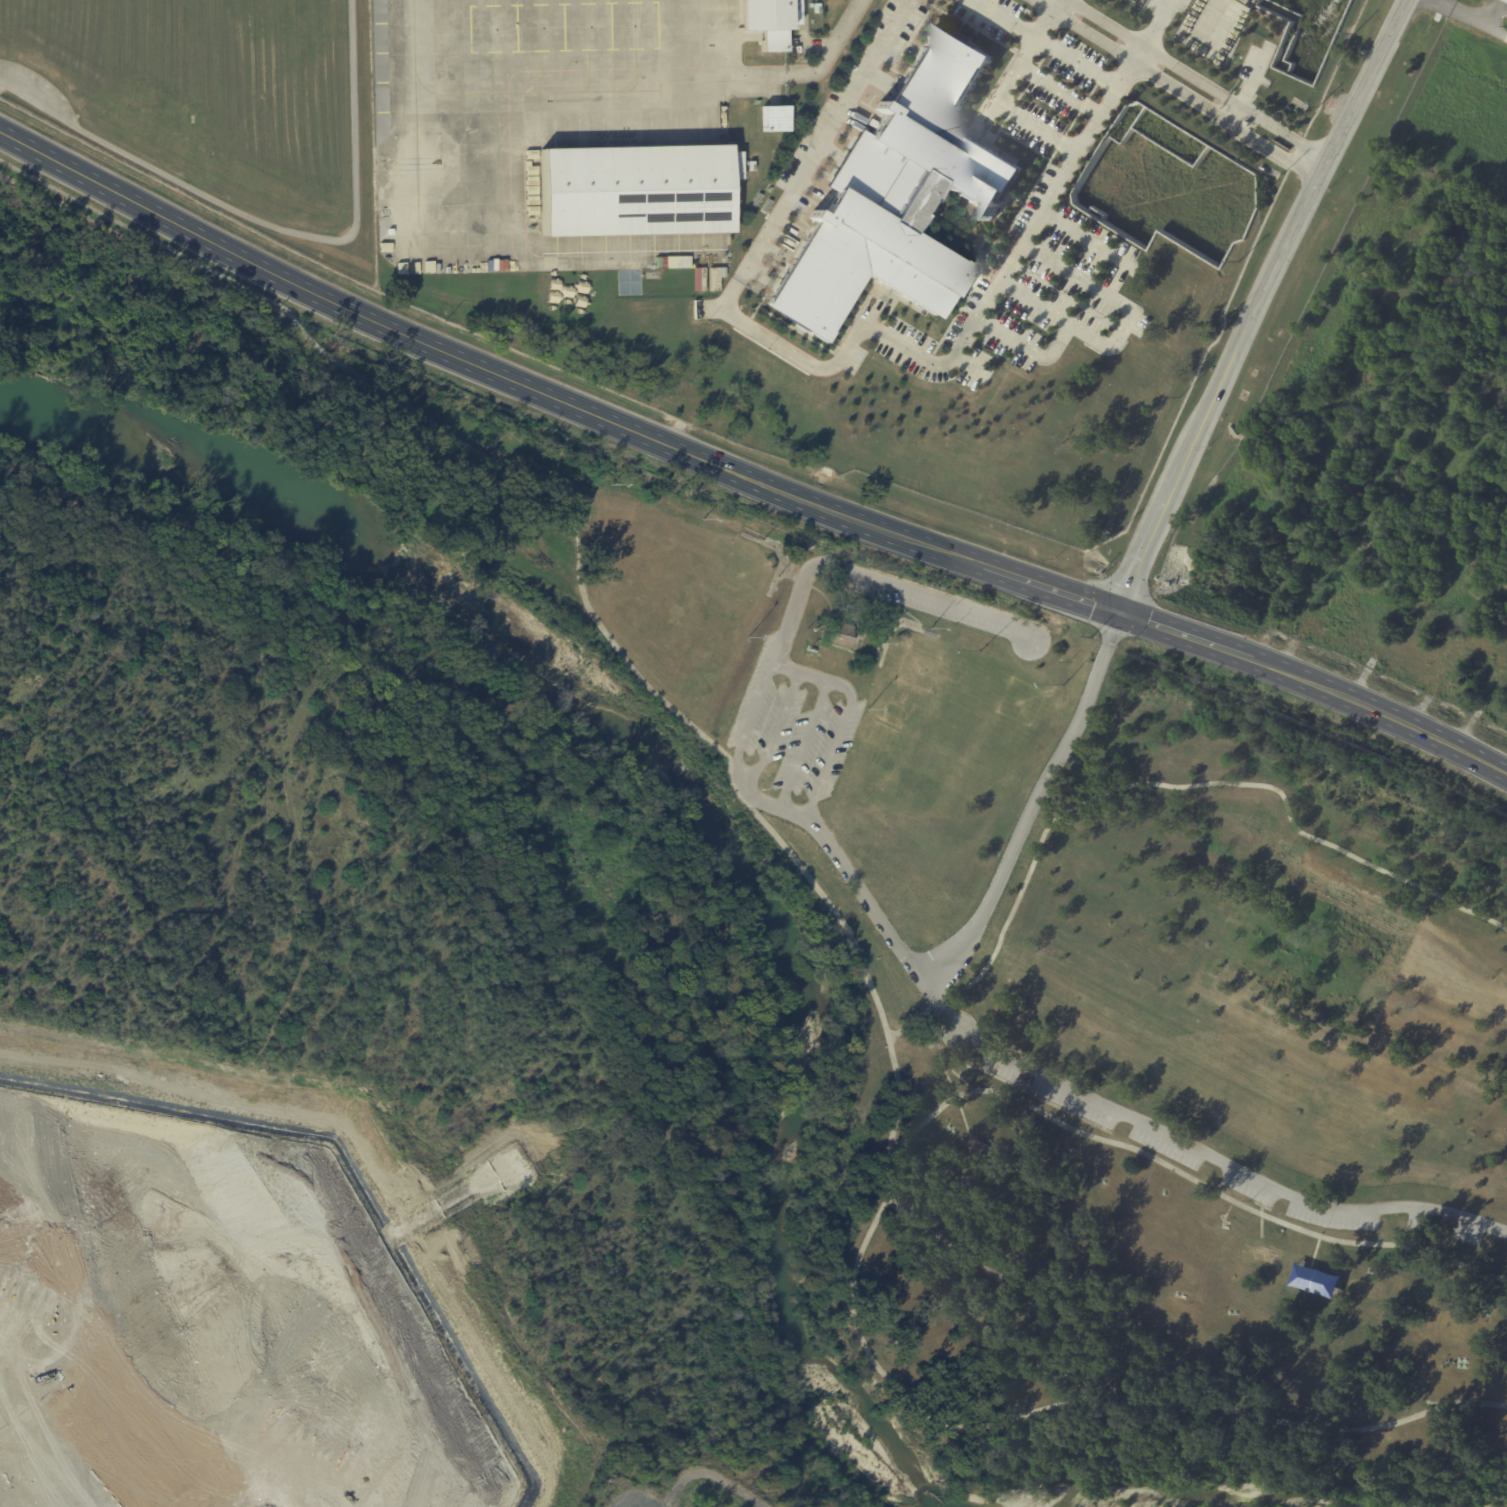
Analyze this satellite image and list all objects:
road: (1208, 1)
building: (767, 22)
road: (1042, 23)
road: (1044, 43)
road: (1200, 80)
road: (1178, 89)
road: (1058, 90)
road: (1007, 108)
airport taxiway: (416, 109)
building: (775, 119)
road: (820, 143)
building: (637, 189)
building: (905, 193)
road: (1296, 235)
road: (144, 236)
airport: (928, 252)
road: (968, 335)
road: (483, 369)
building: (1008, 420)
road: (1153, 543)
road: (1051, 592)
building: (844, 636)
road: (1185, 638)
road: (1100, 667)
road: (785, 668)
road: (830, 682)
road: (762, 685)
road: (1380, 715)
road: (777, 732)
road: (802, 745)
road: (828, 762)
road: (1224, 783)
river: (685, 794)
road: (1381, 871)
park: (1063, 984)
road: (954, 999)
road: (891, 1050)
road: (1004, 1081)
road: (1050, 1082)
parking lot: (1051, 1095)
road: (962, 1117)
parking lot: (1164, 1149)
building: (980, 1150)
road: (1188, 1178)
parking lot: (1245, 1189)
parking lot: (1331, 1219)
parking lot: (1443, 1230)
road: (926, 1233)
building: (997, 1269)
landfill: (232, 1310)
road: (707, 1475)
landfill: (730, 1480)
river: (1175, 1497)

